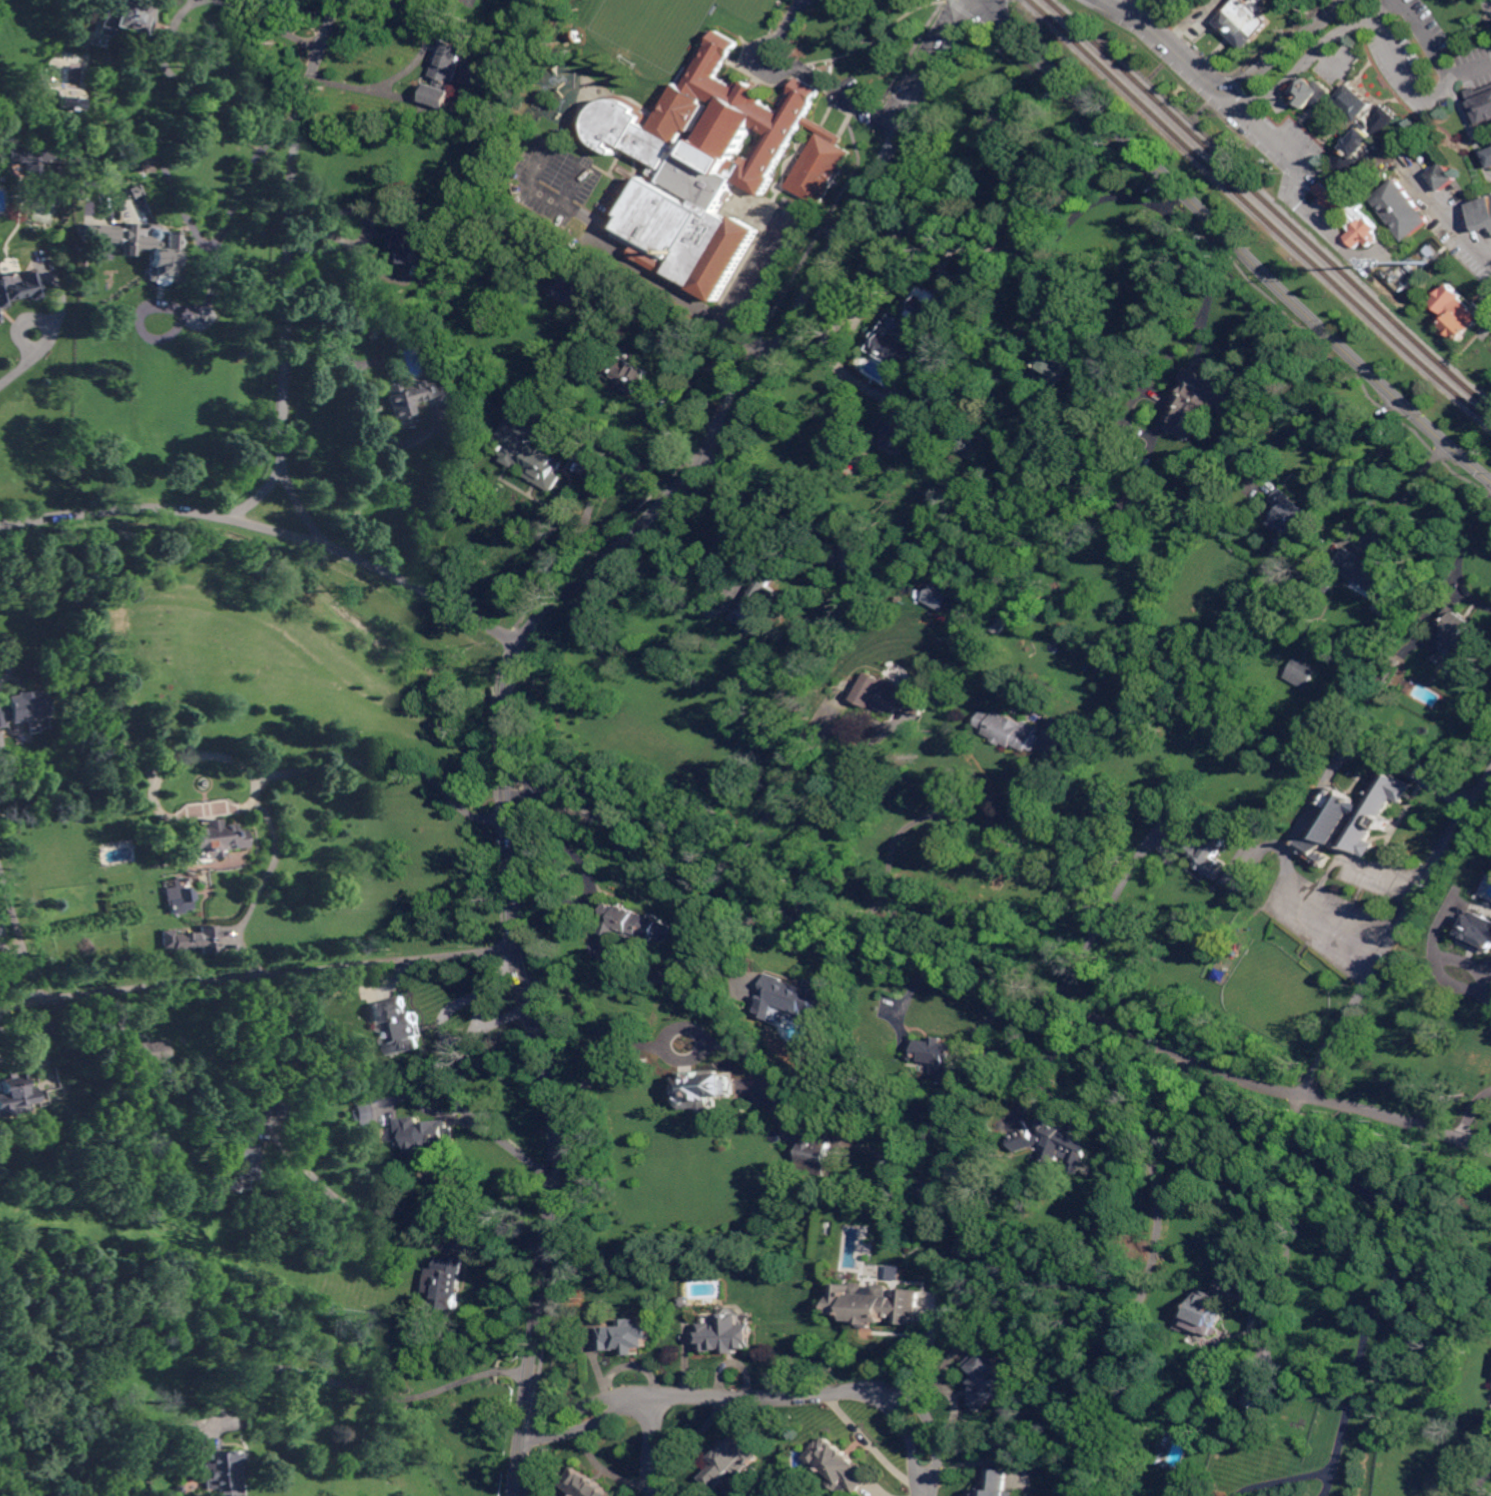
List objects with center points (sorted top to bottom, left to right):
road: (976, 2)
road: (983, 2)
building: (124, 18)
building: (1247, 21)
road: (272, 23)
park: (652, 26)
road: (1351, 27)
road: (1429, 40)
road: (1287, 47)
road: (409, 70)
road: (1471, 70)
road: (811, 73)
building: (447, 75)
road: (1204, 76)
road: (188, 90)
building: (1312, 94)
building: (69, 103)
building: (490, 103)
building: (1359, 103)
building: (1482, 103)
road: (1471, 128)
building: (1365, 141)
building: (30, 157)
building: (1487, 158)
building: (1427, 159)
building: (146, 164)
building: (712, 168)
building: (1446, 176)
road: (1050, 185)
building: (132, 190)
road: (237, 191)
railway: (1271, 203)
building: (1402, 209)
railway: (1260, 212)
building: (1483, 214)
building: (1361, 215)
road: (1452, 220)
road: (815, 224)
building: (99, 233)
road: (290, 235)
building: (406, 239)
road: (1235, 241)
road: (1489, 257)
building: (163, 258)
road: (1489, 260)
building: (1413, 267)
building: (19, 290)
road: (739, 293)
building: (574, 294)
road: (1487, 296)
building: (1459, 313)
building: (0, 318)
building: (0, 320)
road: (1194, 329)
building: (376, 331)
building: (911, 331)
road: (25, 362)
building: (1058, 362)
road: (718, 363)
building: (629, 374)
building: (928, 391)
building: (414, 398)
building: (1202, 399)
road: (665, 403)
building: (523, 405)
road: (369, 415)
road: (1324, 422)
building: (891, 430)
building: (1016, 430)
building: (972, 445)
building: (1115, 447)
building: (534, 449)
road: (619, 467)
road: (1408, 492)
road: (254, 498)
building: (1137, 504)
road: (109, 510)
road: (303, 512)
building: (810, 516)
building: (1291, 519)
road: (748, 527)
road: (311, 542)
road: (1459, 557)
building: (862, 560)
building: (1373, 578)
building: (1327, 585)
building: (939, 597)
road: (461, 609)
building: (759, 609)
building: (999, 626)
building: (1462, 631)
road: (7, 664)
building: (1388, 670)
building: (1302, 671)
road: (512, 675)
building: (880, 694)
building: (22, 707)
building: (1207, 728)
building: (1009, 730)
building: (818, 741)
road: (1396, 759)
road: (306, 768)
road: (774, 796)
road: (924, 817)
building: (1374, 817)
building: (210, 840)
building: (625, 848)
building: (1203, 851)
building: (182, 901)
road: (1107, 908)
road: (1338, 920)
road: (746, 921)
building: (628, 924)
building: (667, 928)
building: (1479, 930)
building: (1, 931)
road: (1398, 932)
road: (18, 938)
building: (193, 940)
road: (1442, 953)
road: (998, 970)
road: (257, 977)
building: (795, 994)
road: (477, 1012)
road: (591, 1023)
road: (442, 1024)
building: (327, 1035)
building: (1483, 1036)
building: (407, 1038)
building: (148, 1053)
building: (940, 1059)
road: (1050, 1063)
building: (18, 1088)
building: (127, 1089)
building: (702, 1091)
road: (454, 1104)
building: (274, 1109)
road: (1470, 1111)
building: (363, 1112)
building: (201, 1129)
building: (436, 1135)
building: (1055, 1143)
building: (814, 1157)
building: (246, 1162)
road: (1230, 1174)
building: (926, 1193)
road: (406, 1214)
building: (279, 1242)
road: (1400, 1262)
building: (447, 1282)
building: (685, 1301)
building: (877, 1303)
building: (1205, 1313)
building: (727, 1334)
building: (628, 1336)
building: (988, 1377)
building: (1241, 1381)
road: (355, 1386)
road: (831, 1392)
building: (1263, 1397)
road: (590, 1413)
building: (189, 1440)
road: (651, 1446)
building: (731, 1461)
building: (841, 1465)
building: (123, 1472)
building: (224, 1473)
road: (1284, 1480)
building: (998, 1483)
road: (1330, 1483)
building: (585, 1484)

